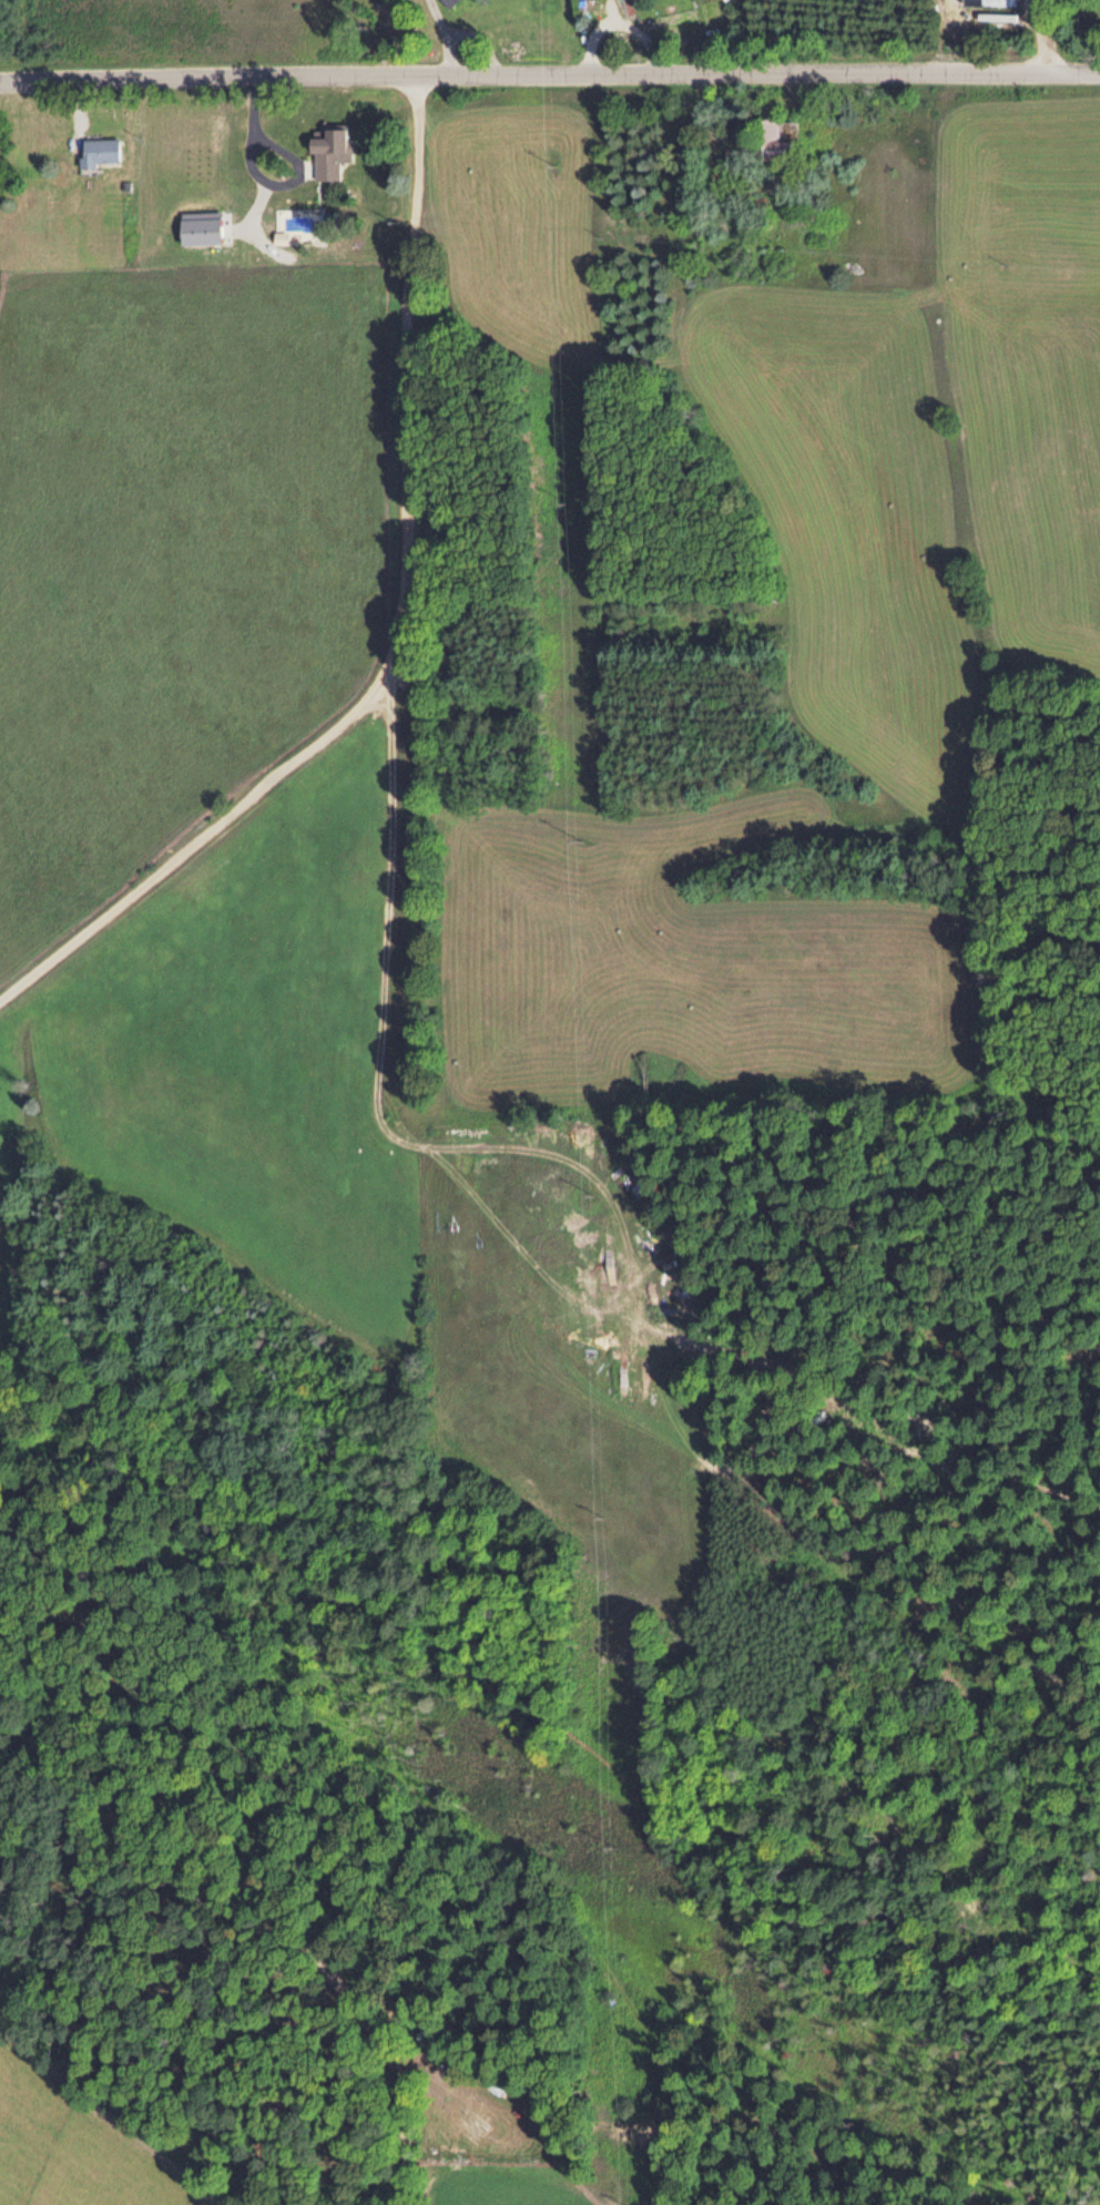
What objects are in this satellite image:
building: (447, 1)
building: (631, 1)
building: (997, 2)
road: (549, 69)
building: (790, 124)
building: (773, 140)
building: (335, 142)
building: (99, 151)
building: (296, 166)
building: (354, 207)
road: (393, 624)
road: (379, 1030)
road: (249, 1887)
building: (483, 2120)

